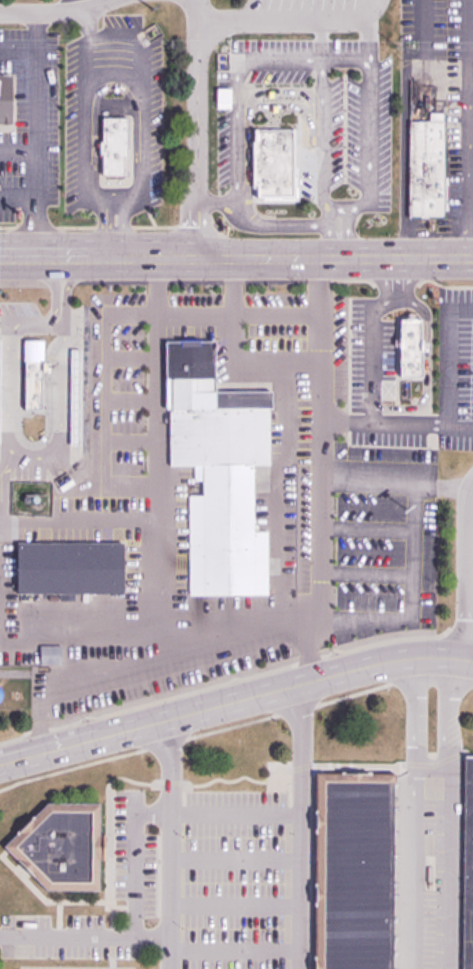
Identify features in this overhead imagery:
building: (324, 1)
road: (370, 11)
road: (55, 13)
road: (282, 23)
road: (421, 27)
road: (322, 41)
road: (370, 41)
road: (18, 50)
building: (4, 99)
road: (141, 110)
parking lot: (311, 114)
parking lot: (78, 116)
parking lot: (29, 121)
road: (235, 124)
road: (195, 128)
road: (469, 129)
road: (37, 135)
road: (322, 138)
building: (112, 148)
road: (370, 148)
road: (19, 153)
road: (81, 155)
building: (271, 162)
building: (427, 165)
road: (19, 198)
road: (215, 199)
road: (340, 232)
road: (97, 258)
road: (334, 258)
road: (393, 280)
road: (233, 287)
road: (106, 320)
building: (406, 348)
road: (372, 357)
road: (130, 358)
road: (426, 368)
parking lot: (455, 369)
building: (30, 372)
road: (244, 380)
parking lot: (376, 383)
road: (155, 389)
building: (72, 395)
road: (130, 401)
road: (319, 417)
road: (130, 443)
road: (14, 454)
road: (5, 459)
building: (215, 475)
road: (366, 484)
building: (29, 498)
parking lot: (344, 507)
road: (276, 509)
road: (77, 521)
road: (366, 528)
building: (67, 567)
road: (468, 571)
road: (366, 574)
road: (155, 596)
road: (355, 622)
road: (76, 640)
building: (48, 655)
road: (184, 664)
road: (235, 680)
road: (235, 701)
road: (234, 726)
road: (200, 786)
road: (414, 813)
road: (447, 813)
road: (155, 814)
road: (299, 827)
road: (169, 844)
building: (57, 847)
parking lot: (132, 855)
road: (234, 861)
building: (466, 864)
parking lot: (426, 868)
building: (350, 871)
parking lot: (234, 880)
road: (44, 901)
road: (233, 904)
road: (124, 908)
road: (58, 920)
road: (84, 937)
parking lot: (64, 939)
road: (233, 951)
parking lot: (79, 967)

